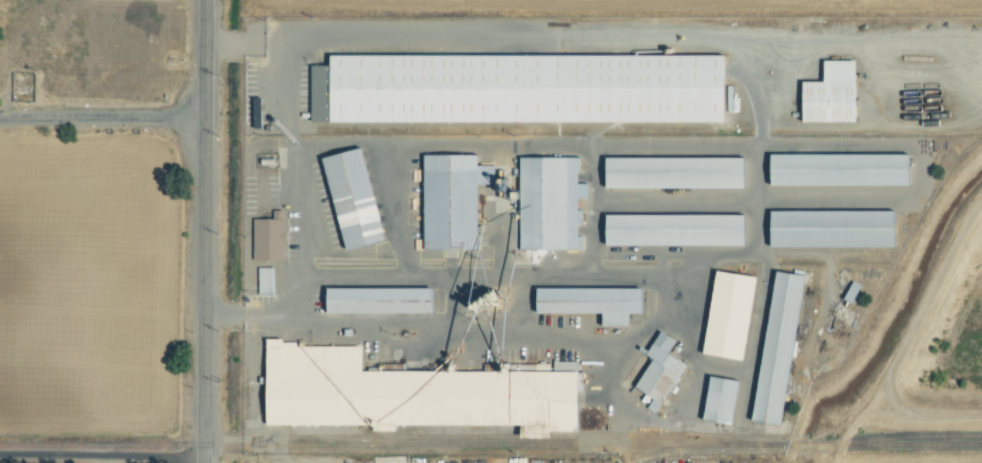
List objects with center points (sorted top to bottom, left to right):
building: (523, 88)
building: (835, 94)
road: (102, 118)
building: (844, 169)
building: (679, 172)
road: (304, 187)
building: (357, 197)
building: (455, 199)
building: (552, 202)
building: (837, 228)
building: (679, 229)
road: (203, 231)
building: (271, 237)
building: (267, 280)
building: (853, 292)
building: (383, 300)
building: (596, 302)
building: (732, 315)
building: (781, 347)
building: (663, 371)
building: (413, 392)
building: (724, 400)
railway: (529, 438)
railway: (894, 439)
railway: (634, 447)
railway: (670, 450)
road: (101, 457)

